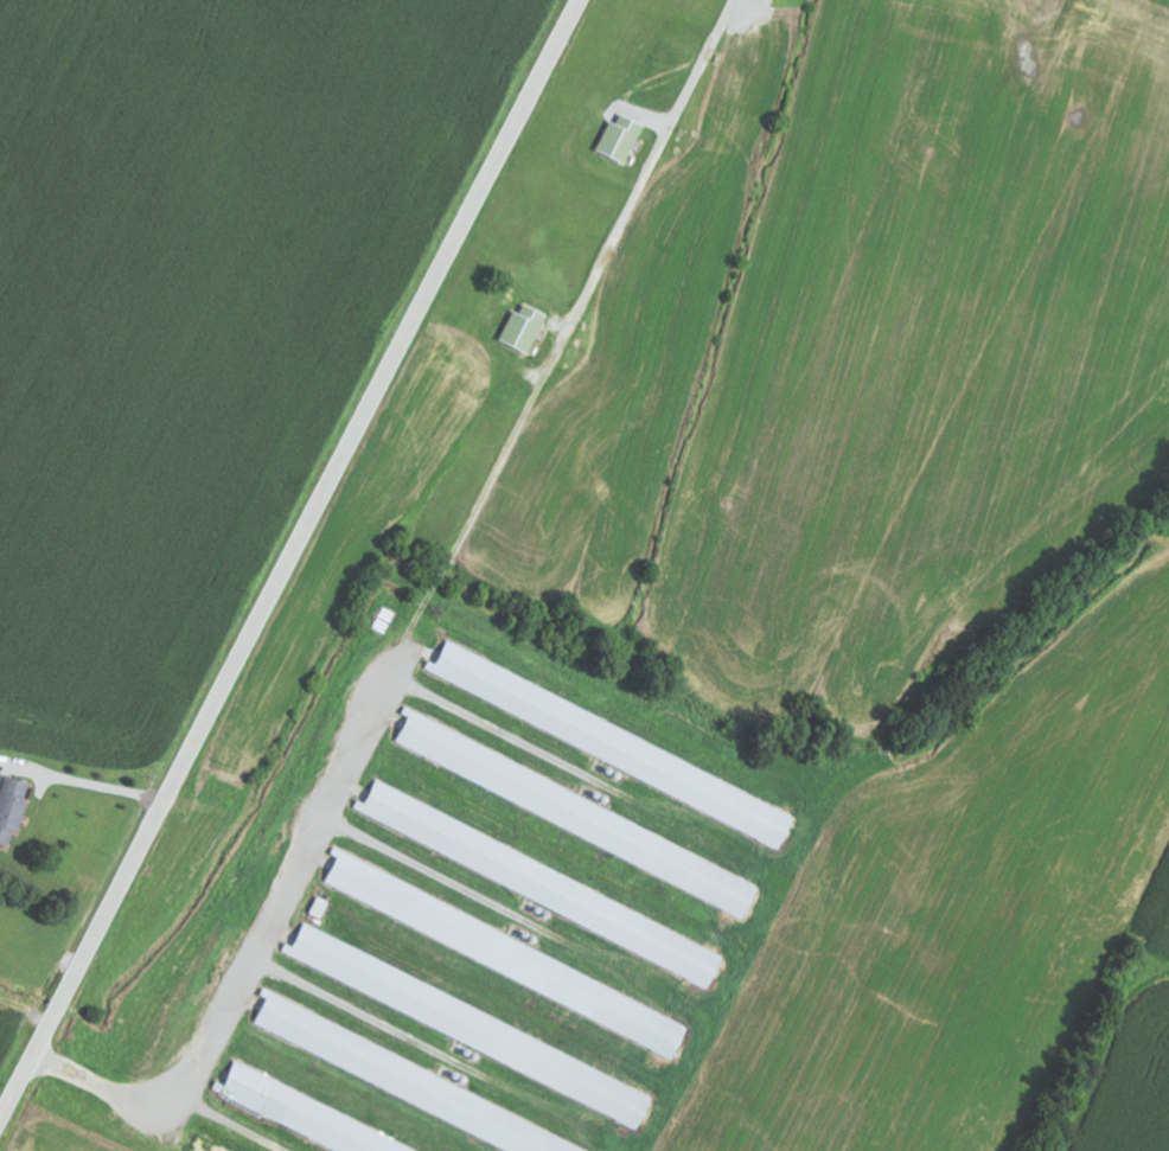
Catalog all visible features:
building: (621, 140)
building: (525, 330)
road: (290, 561)
building: (615, 744)
building: (13, 808)
building: (543, 884)
building: (321, 908)
building: (473, 1025)
building: (410, 1081)
building: (302, 1118)

